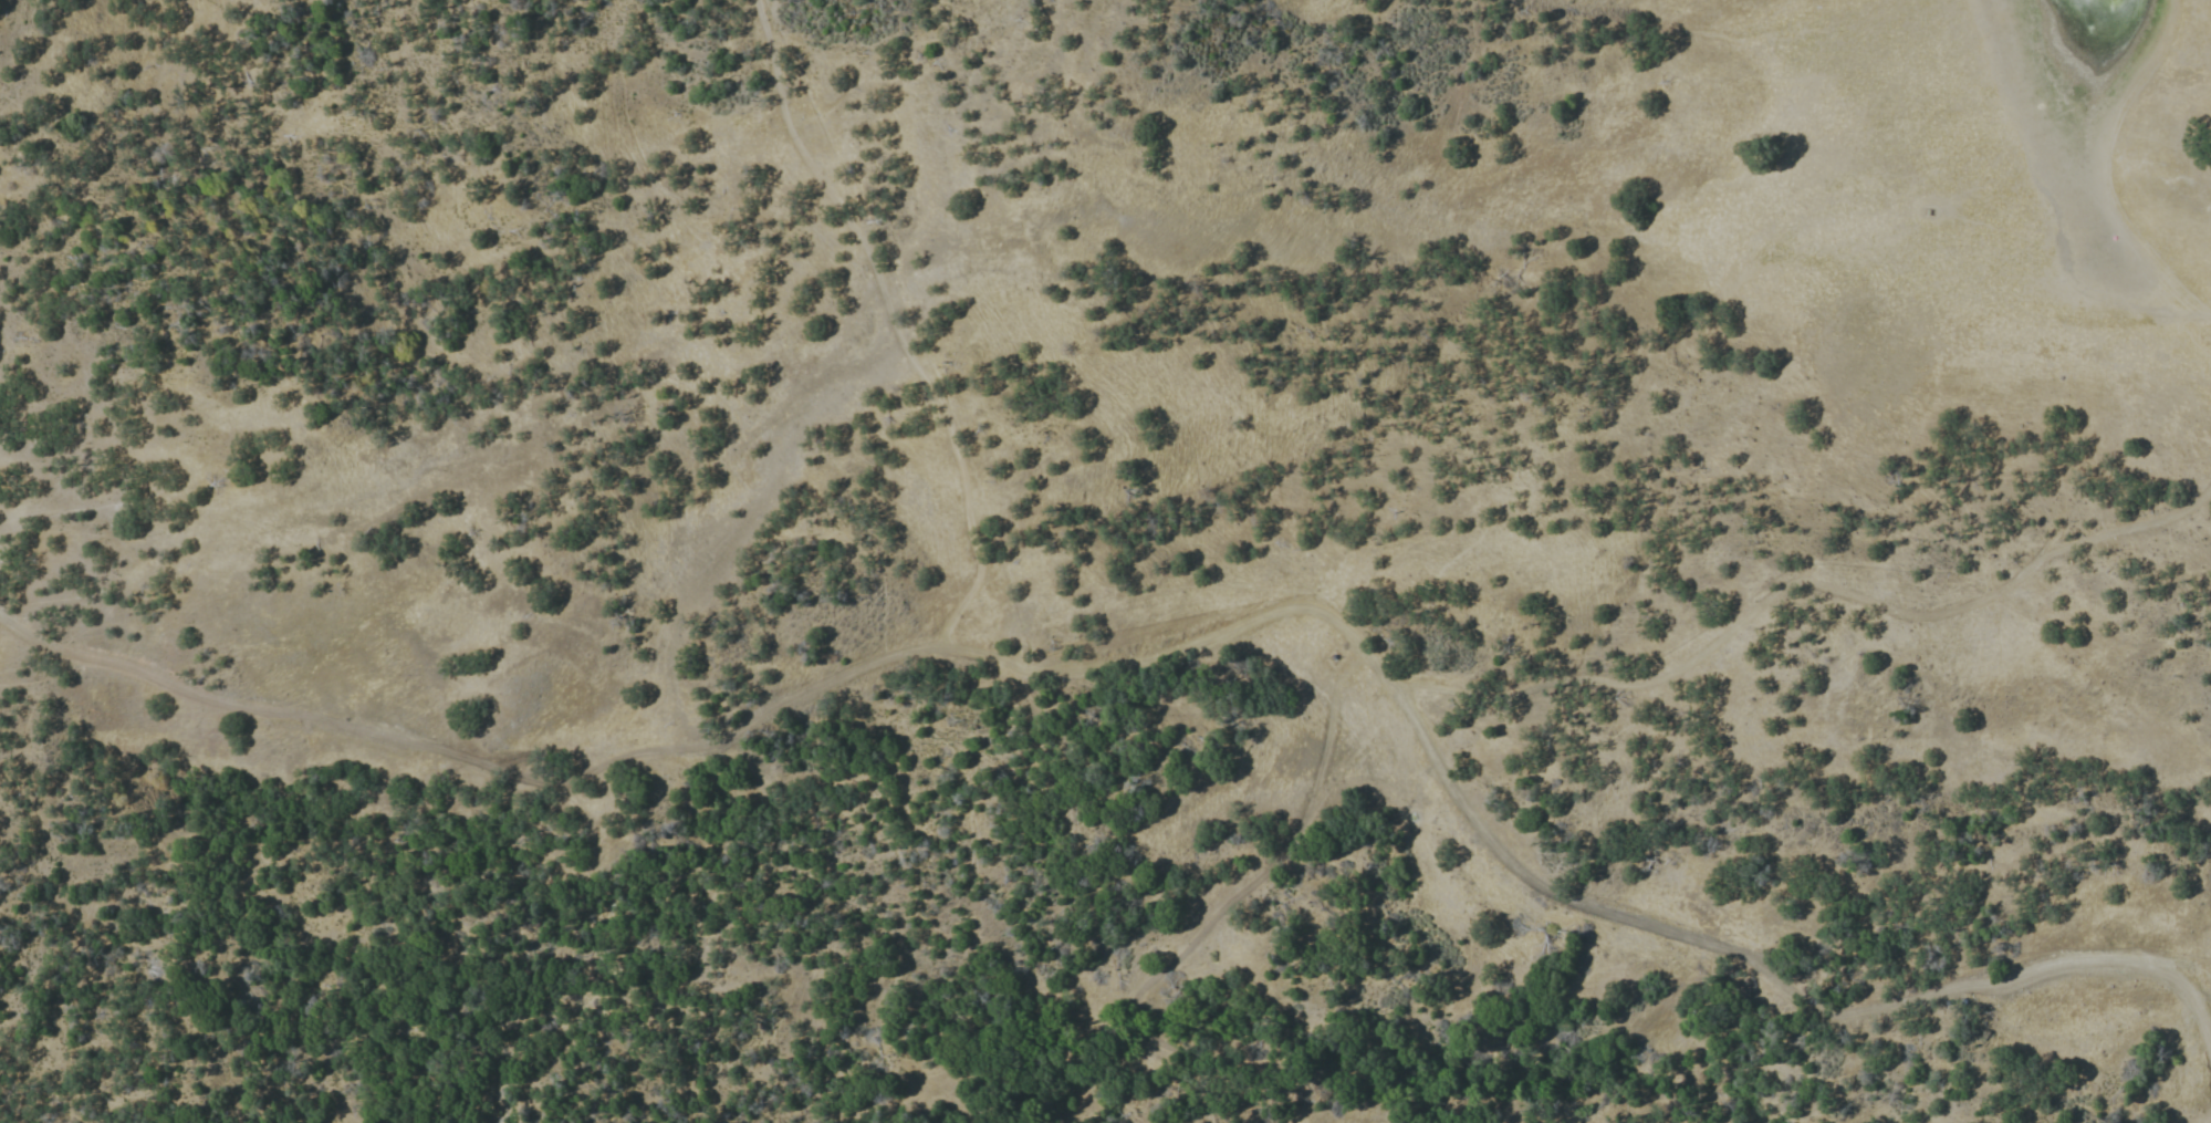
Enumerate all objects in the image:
road: (2193, 319)
road: (891, 323)
road: (1802, 581)
road: (483, 767)
road: (1493, 852)
road: (1229, 901)
road: (2184, 988)

